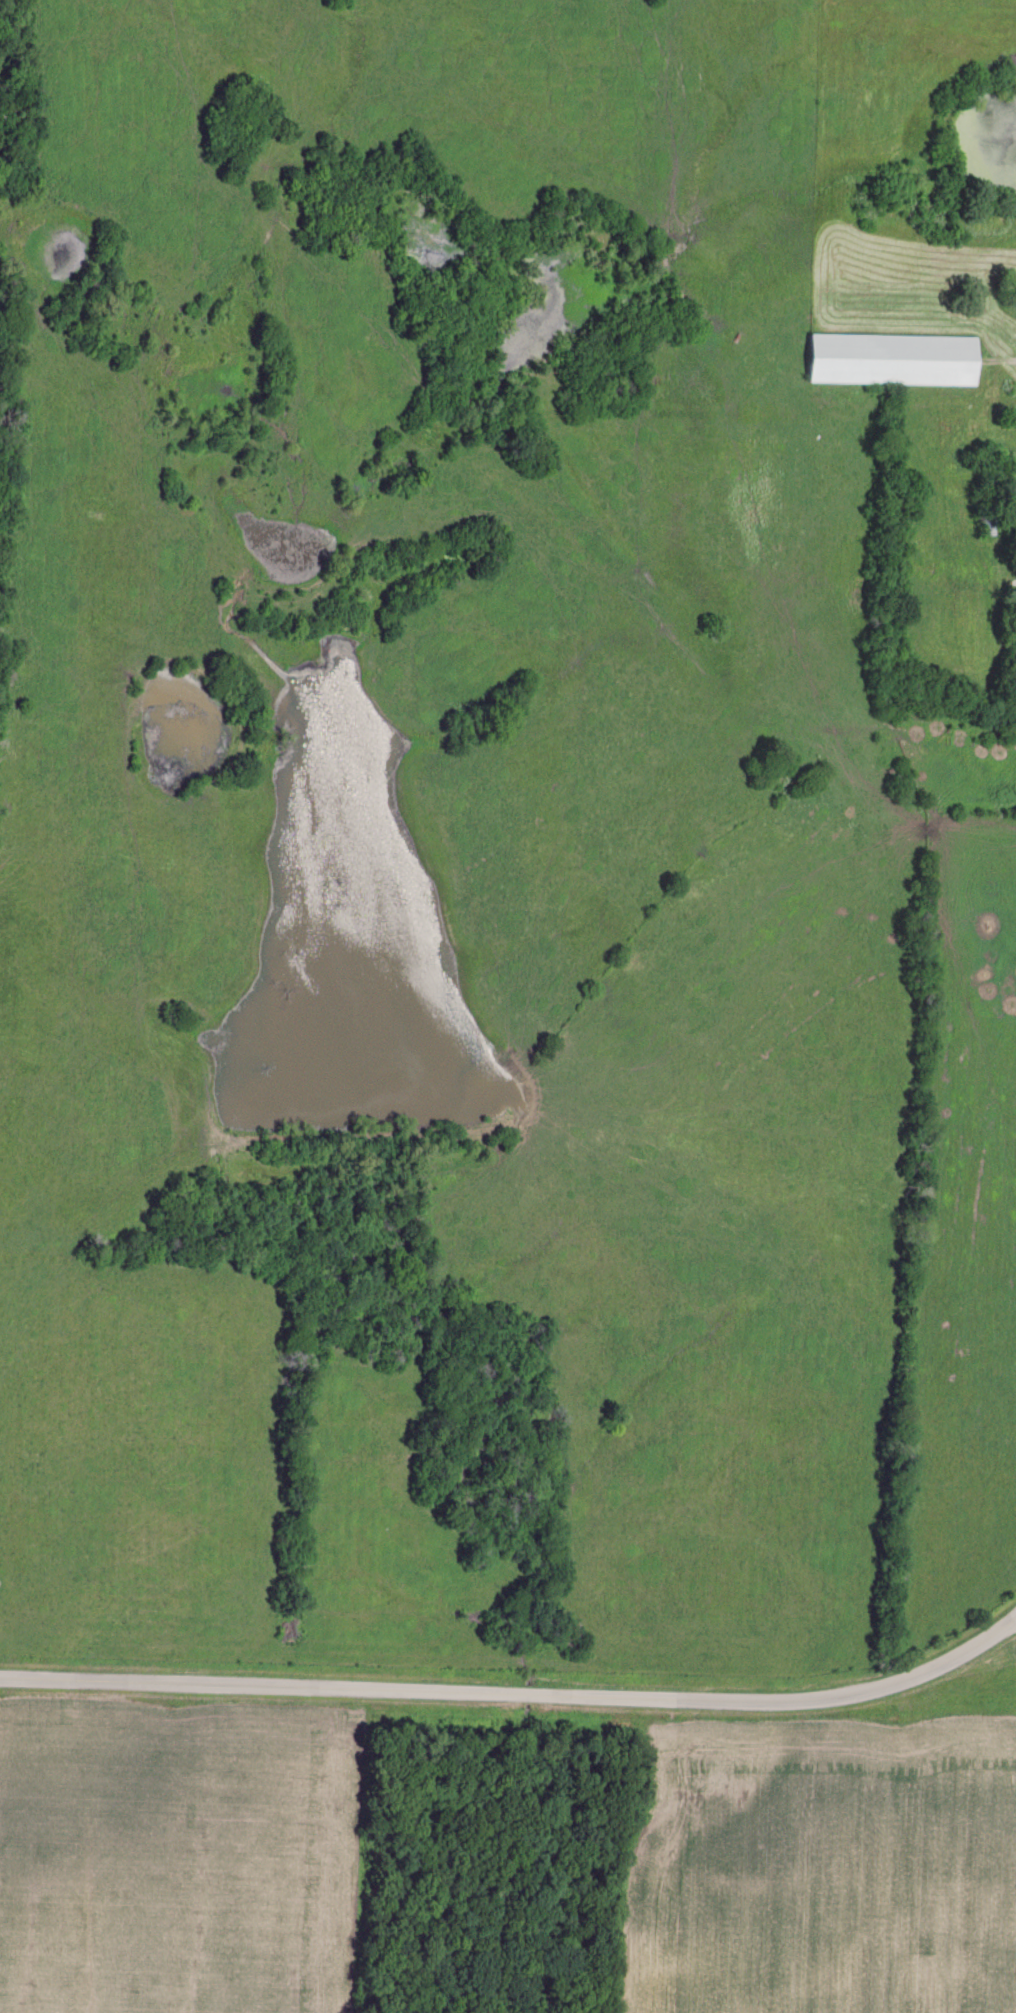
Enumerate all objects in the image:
building: (890, 361)
building: (988, 524)
building: (1011, 728)
road: (515, 1696)

